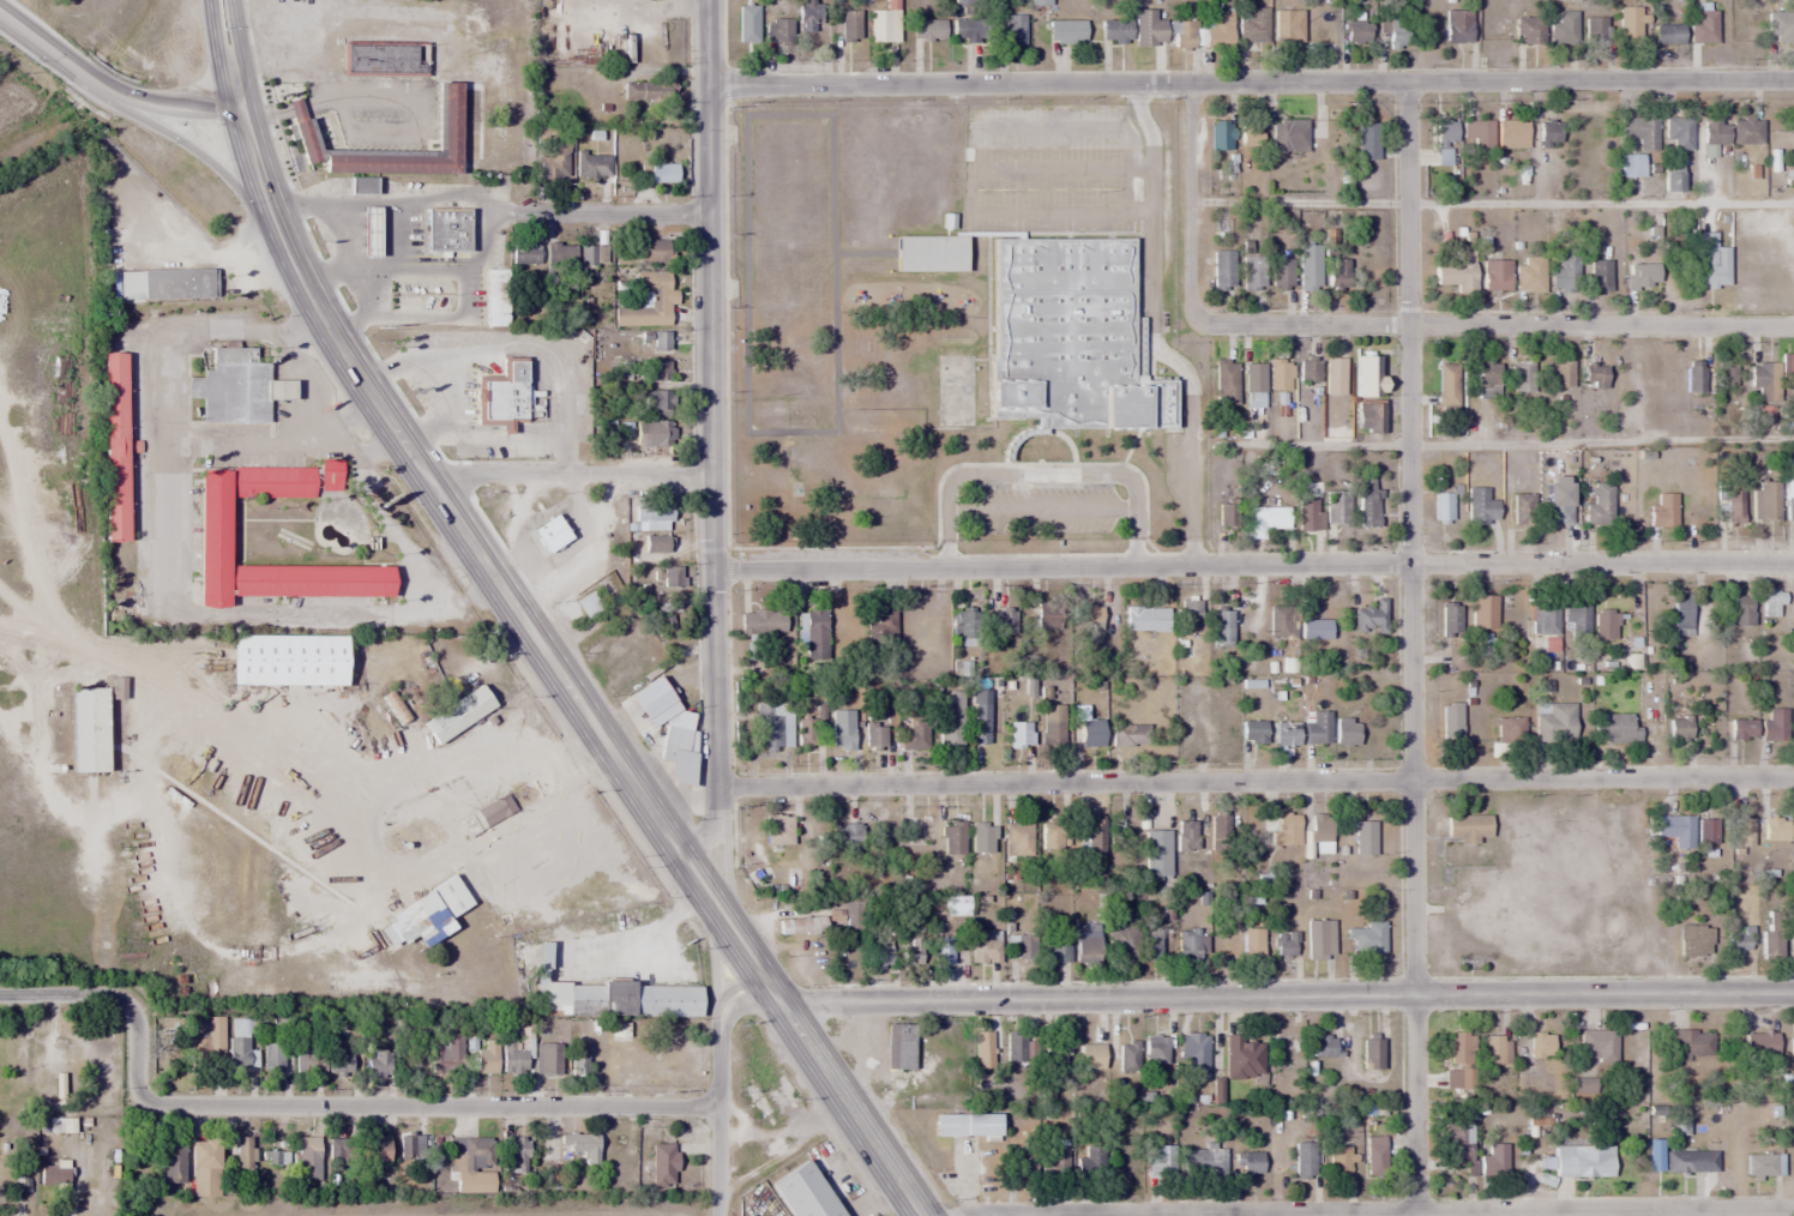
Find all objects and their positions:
building: (809, 14)
building: (849, 24)
building: (884, 24)
building: (1629, 24)
building: (1704, 24)
building: (1780, 24)
building: (1254, 25)
building: (1457, 25)
building: (1287, 26)
building: (1564, 26)
building: (1149, 28)
building: (927, 29)
building: (1013, 29)
building: (1594, 29)
building: (778, 30)
building: (967, 30)
building: (1529, 30)
building: (1066, 31)
building: (1115, 31)
building: (1356, 31)
building: (1667, 34)
building: (1182, 35)
building: (1217, 36)
road: (44, 37)
building: (386, 58)
road: (1251, 83)
building: (648, 90)
road: (162, 101)
road: (241, 109)
building: (458, 127)
building: (1511, 128)
building: (1641, 130)
building: (300, 131)
building: (1678, 131)
building: (1747, 131)
building: (1477, 132)
building: (1548, 133)
building: (1715, 133)
building: (1222, 134)
building: (1250, 134)
building: (1289, 136)
road: (185, 138)
building: (1367, 140)
building: (1444, 142)
building: (554, 161)
building: (1632, 164)
building: (592, 165)
building: (662, 173)
building: (1672, 177)
road: (1191, 205)
road: (619, 213)
building: (368, 227)
building: (446, 228)
building: (651, 249)
building: (524, 253)
building: (592, 253)
building: (929, 253)
building: (560, 254)
building: (1711, 261)
building: (1308, 266)
building: (1223, 270)
building: (1253, 270)
building: (1457, 271)
building: (1281, 272)
building: (1337, 273)
building: (1530, 273)
building: (1642, 273)
building: (1495, 275)
building: (1601, 275)
building: (1564, 276)
building: (494, 296)
building: (646, 300)
road: (1492, 326)
road: (1150, 332)
building: (1067, 335)
building: (661, 341)
building: (1788, 367)
building: (1308, 369)
building: (1726, 372)
building: (1561, 374)
building: (1280, 375)
building: (1334, 375)
building: (1367, 375)
building: (1523, 375)
building: (1594, 375)
building: (1694, 375)
building: (1488, 378)
building: (1226, 381)
building: (1765, 381)
building: (1253, 385)
building: (236, 386)
building: (1446, 389)
building: (501, 399)
building: (654, 402)
building: (1368, 417)
building: (656, 434)
road: (711, 435)
building: (330, 474)
road: (568, 476)
building: (1766, 500)
building: (1599, 504)
building: (1367, 506)
building: (1443, 506)
building: (1481, 506)
building: (1790, 507)
building: (1336, 508)
building: (1522, 508)
building: (1663, 511)
building: (1734, 512)
building: (1306, 513)
building: (1558, 513)
building: (660, 516)
building: (1268, 518)
building: (212, 530)
building: (549, 534)
building: (655, 542)
road: (1253, 566)
building: (672, 576)
building: (1772, 598)
building: (588, 603)
building: (1741, 609)
building: (1483, 610)
building: (1086, 614)
building: (1190, 614)
building: (1681, 615)
building: (1048, 616)
building: (1146, 618)
building: (1369, 619)
building: (1450, 619)
building: (1576, 619)
building: (1006, 620)
building: (1545, 620)
building: (763, 621)
building: (1281, 621)
building: (967, 622)
building: (1606, 624)
building: (880, 626)
building: (1222, 628)
building: (1314, 630)
building: (815, 634)
road: (1410, 644)
building: (264, 658)
building: (456, 714)
road: (589, 720)
building: (1554, 721)
building: (1451, 723)
building: (951, 724)
building: (1774, 726)
building: (772, 727)
building: (1317, 728)
building: (86, 729)
building: (1617, 729)
building: (1679, 729)
building: (1741, 729)
building: (1252, 732)
building: (1345, 732)
building: (1511, 732)
building: (806, 733)
building: (1090, 733)
building: (915, 734)
building: (1052, 734)
building: (1128, 734)
building: (1286, 734)
building: (874, 735)
building: (1021, 735)
building: (842, 736)
building: (676, 756)
road: (1254, 782)
building: (493, 808)
building: (778, 830)
building: (1676, 830)
building: (1775, 830)
building: (1118, 831)
building: (1286, 831)
building: (1708, 831)
building: (1742, 831)
building: (1218, 832)
building: (1320, 833)
building: (1050, 836)
building: (1187, 836)
building: (982, 837)
building: (847, 838)
building: (950, 838)
building: (1018, 838)
building: (1363, 838)
building: (1468, 841)
building: (1095, 843)
building: (1156, 854)
building: (953, 905)
building: (432, 909)
building: (853, 916)
building: (1771, 937)
building: (1368, 938)
building: (1319, 939)
building: (1694, 940)
building: (1739, 940)
building: (1152, 943)
building: (1086, 944)
building: (1122, 944)
building: (1286, 944)
building: (1242, 945)
building: (913, 946)
building: (985, 947)
building: (1055, 947)
building: (1025, 949)
building: (1188, 949)
building: (943, 952)
building: (879, 956)
road: (53, 995)
building: (620, 998)
road: (1287, 998)
building: (210, 1041)
building: (1692, 1042)
building: (241, 1043)
building: (1600, 1043)
building: (1792, 1045)
building: (899, 1046)
building: (1324, 1046)
building: (1541, 1046)
building: (1760, 1047)
building: (1016, 1048)
building: (1461, 1048)
road: (134, 1049)
building: (983, 1049)
building: (1497, 1049)
building: (1283, 1052)
building: (446, 1053)
building: (514, 1054)
building: (1372, 1054)
building: (486, 1055)
building: (1156, 1055)
building: (1128, 1057)
building: (1194, 1057)
building: (272, 1058)
building: (1242, 1058)
building: (548, 1059)
building: (576, 1059)
building: (324, 1061)
building: (380, 1064)
road: (720, 1085)
road: (443, 1106)
building: (949, 1125)
building: (1679, 1127)
building: (1456, 1143)
building: (582, 1145)
building: (1022, 1148)
building: (242, 1151)
building: (373, 1151)
building: (516, 1156)
building: (1375, 1156)
building: (1055, 1157)
building: (276, 1158)
building: (308, 1158)
building: (337, 1158)
building: (1203, 1160)
building: (1305, 1160)
building: (1493, 1161)
building: (1583, 1161)
building: (173, 1162)
building: (410, 1162)
building: (1160, 1162)
building: (1340, 1162)
building: (1679, 1162)
building: (474, 1163)
building: (1091, 1163)
building: (1247, 1163)
building: (1759, 1164)
building: (663, 1166)
building: (204, 1168)
building: (53, 1180)
building: (802, 1192)
road: (1355, 1209)

